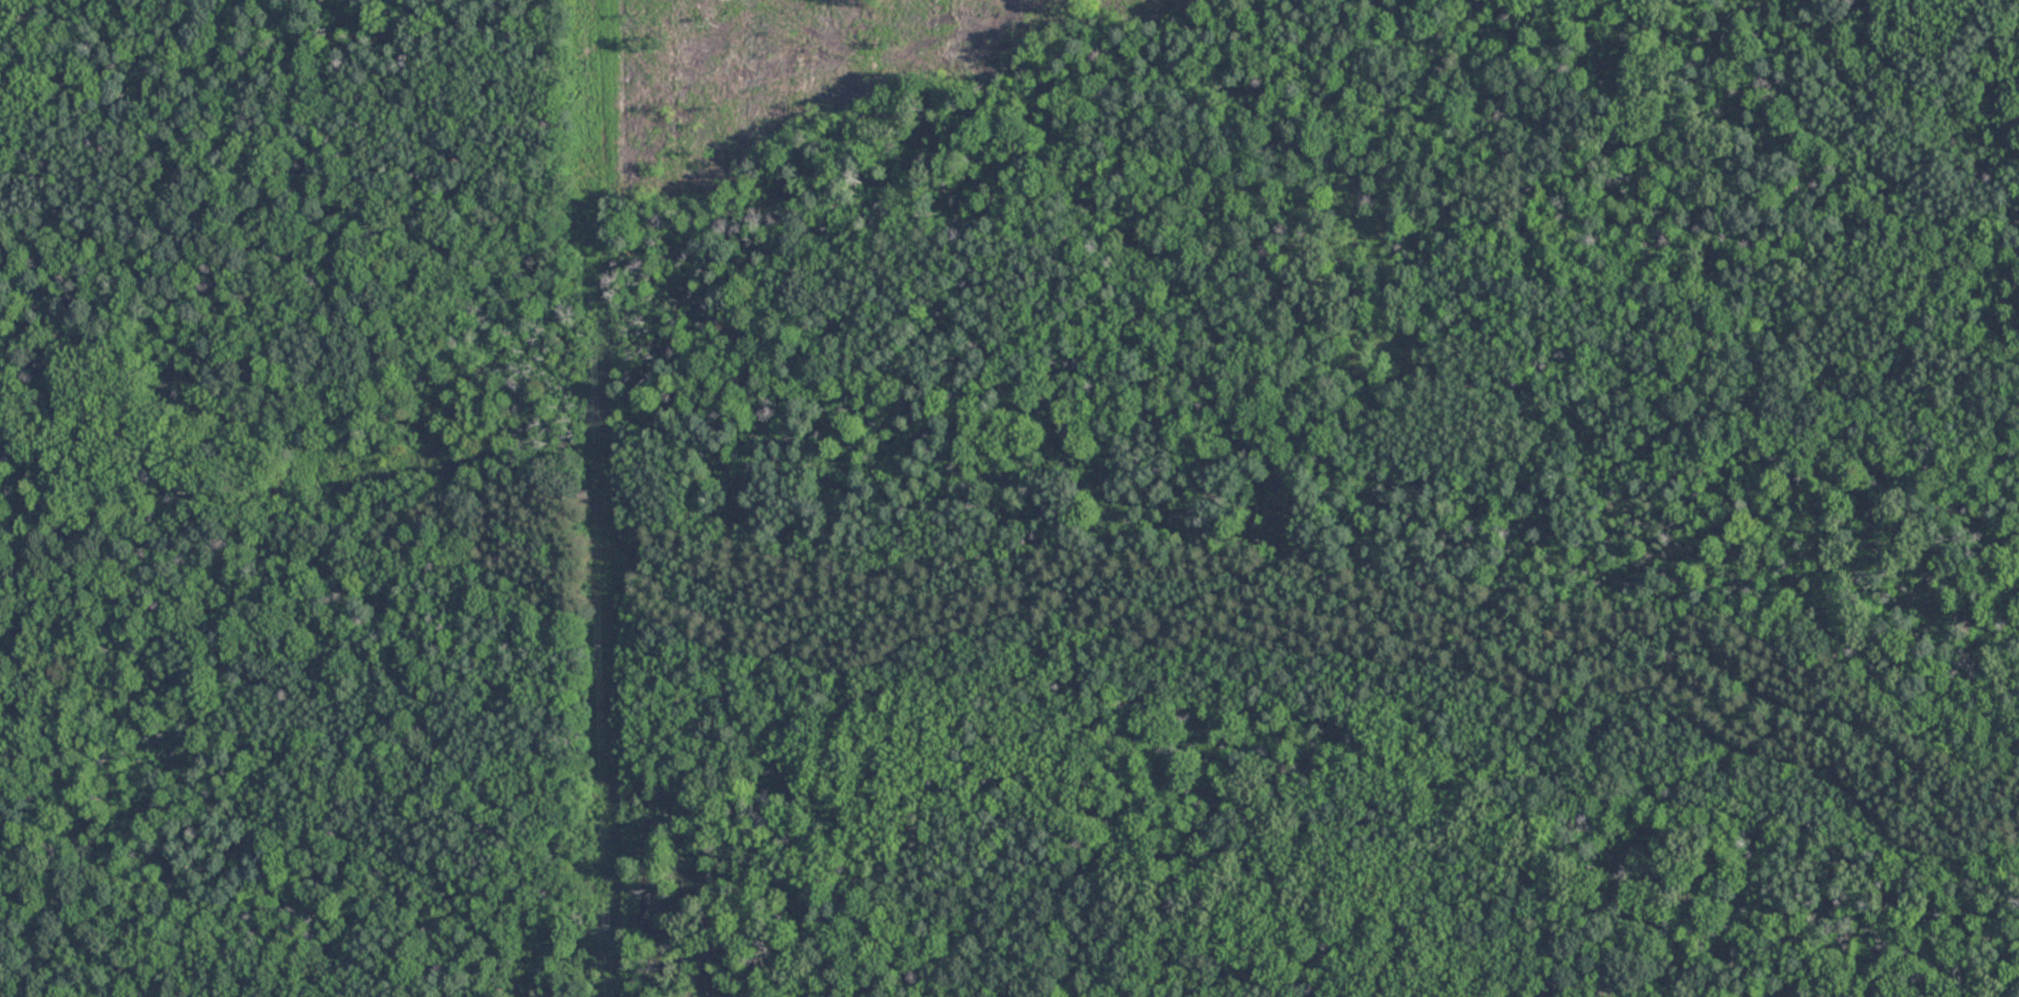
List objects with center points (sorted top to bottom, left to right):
park: (1009, 498)

